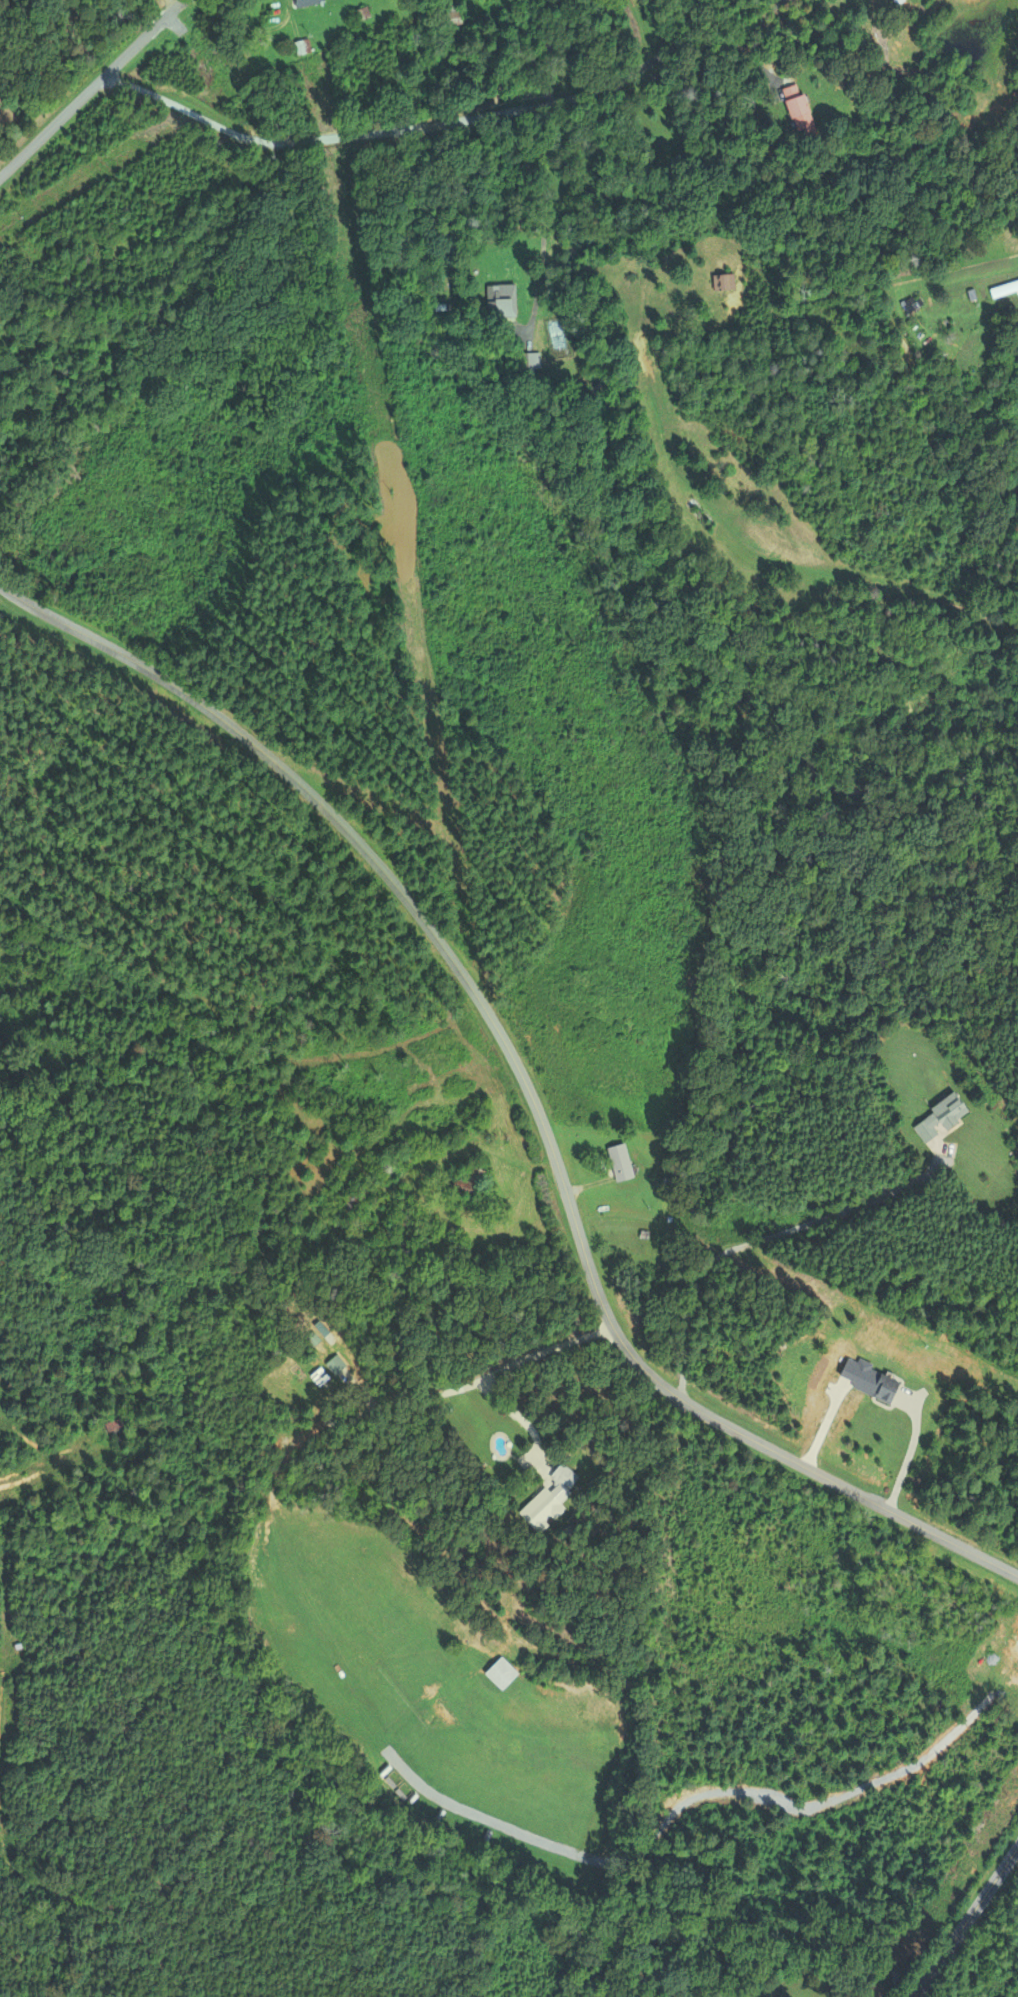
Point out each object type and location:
road: (178, 1)
building: (309, 2)
building: (452, 15)
road: (253, 27)
building: (303, 47)
road: (655, 59)
road: (91, 88)
building: (797, 110)
road: (307, 141)
road: (237, 223)
road: (540, 223)
building: (724, 282)
building: (1004, 287)
building: (503, 302)
road: (526, 1084)
building: (940, 1117)
building: (621, 1162)
building: (466, 1183)
building: (349, 1203)
road: (767, 1237)
building: (314, 1339)
road: (495, 1375)
building: (884, 1388)
road: (524, 1418)
road: (909, 1451)
building: (567, 1476)
building: (543, 1508)
building: (502, 1673)
road: (965, 1921)

